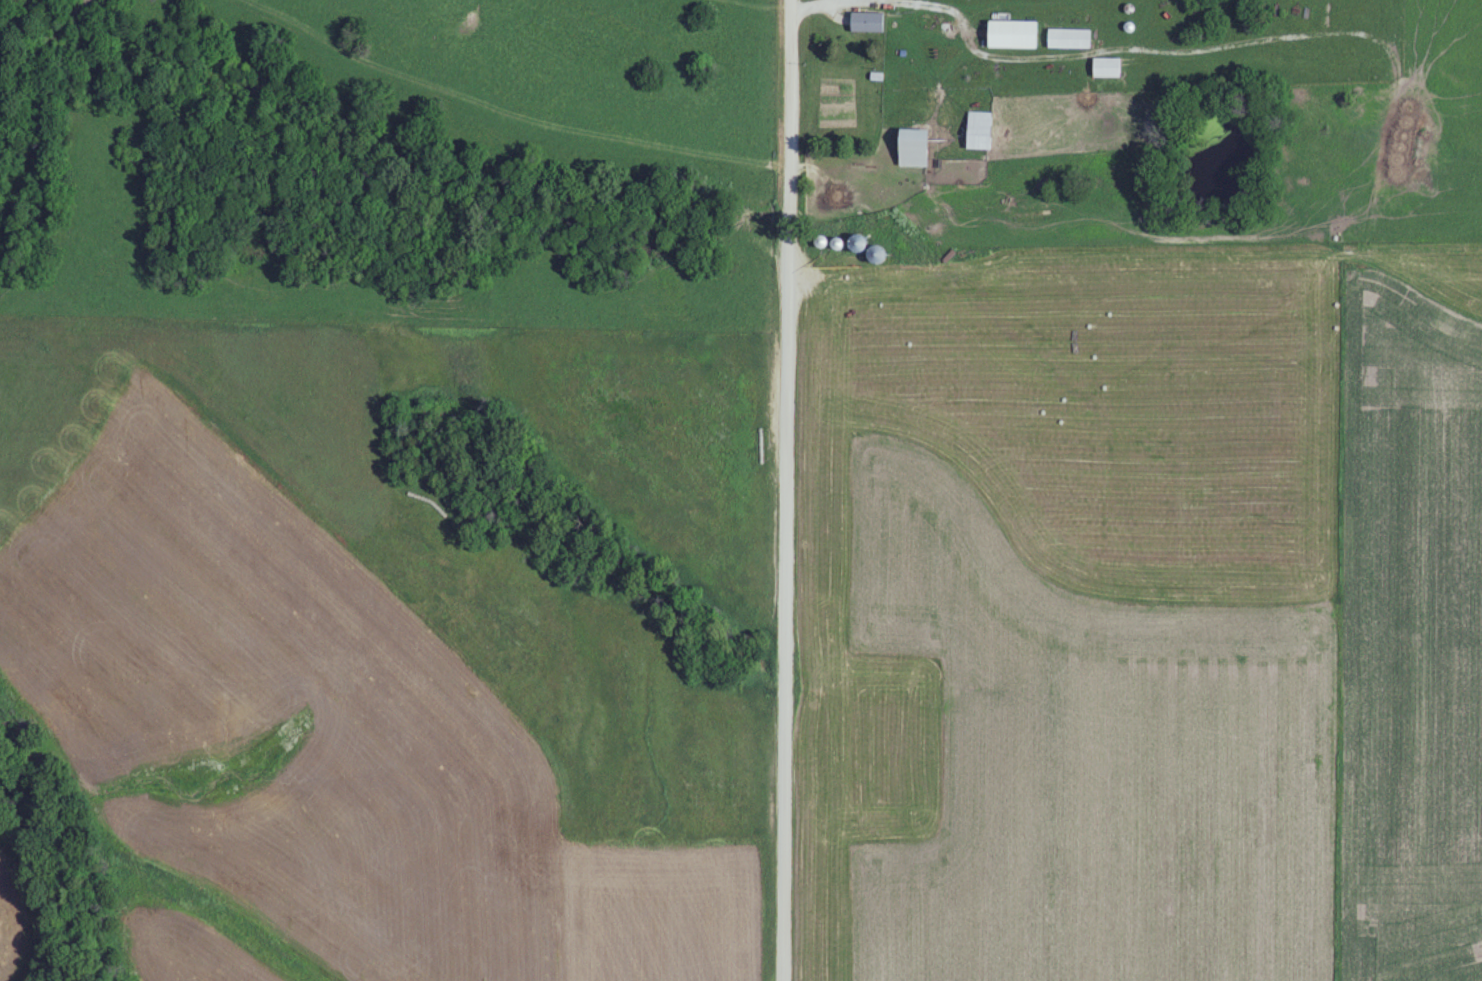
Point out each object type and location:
building: (870, 22)
building: (1016, 34)
building: (1072, 39)
building: (1110, 68)
building: (982, 131)
building: (918, 149)
building: (823, 243)
building: (879, 256)
road: (786, 490)

